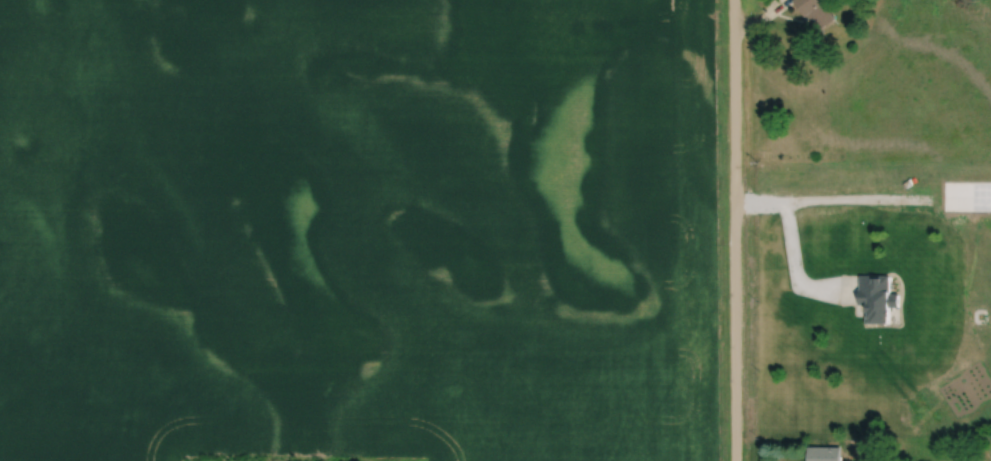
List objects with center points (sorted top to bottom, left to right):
building: (816, 13)
building: (912, 196)
road: (740, 230)
building: (842, 230)
road: (790, 244)
building: (825, 453)

